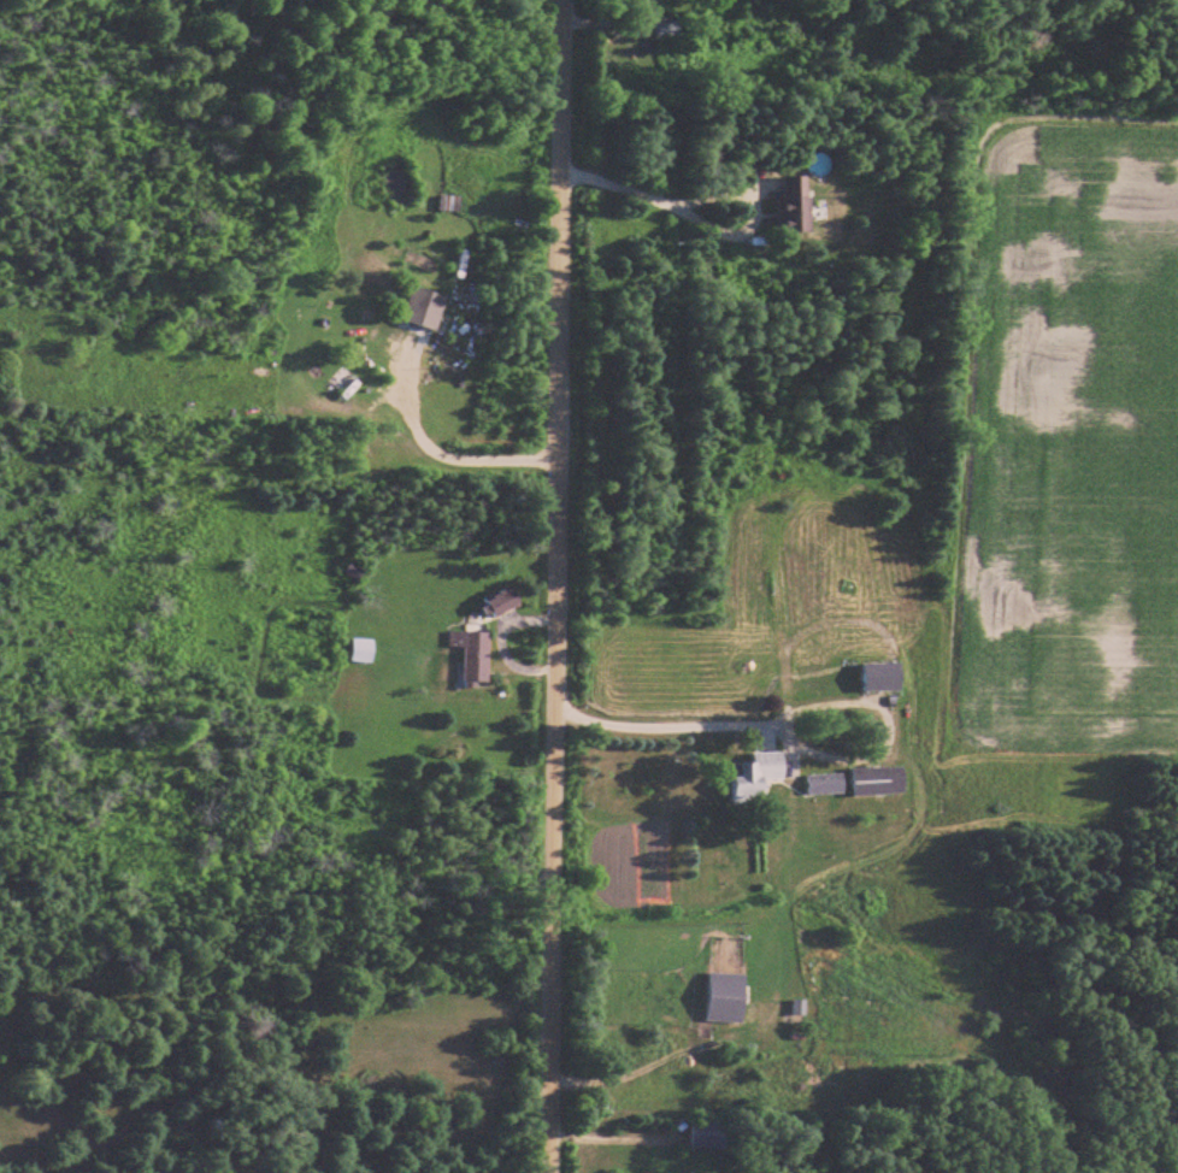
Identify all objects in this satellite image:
building: (667, 28)
road: (660, 194)
building: (796, 205)
building: (354, 381)
road: (448, 448)
road: (559, 586)
building: (507, 603)
building: (363, 650)
building: (477, 658)
road: (672, 721)
building: (756, 774)
building: (879, 779)
building: (826, 783)
building: (728, 996)
building: (708, 1134)

